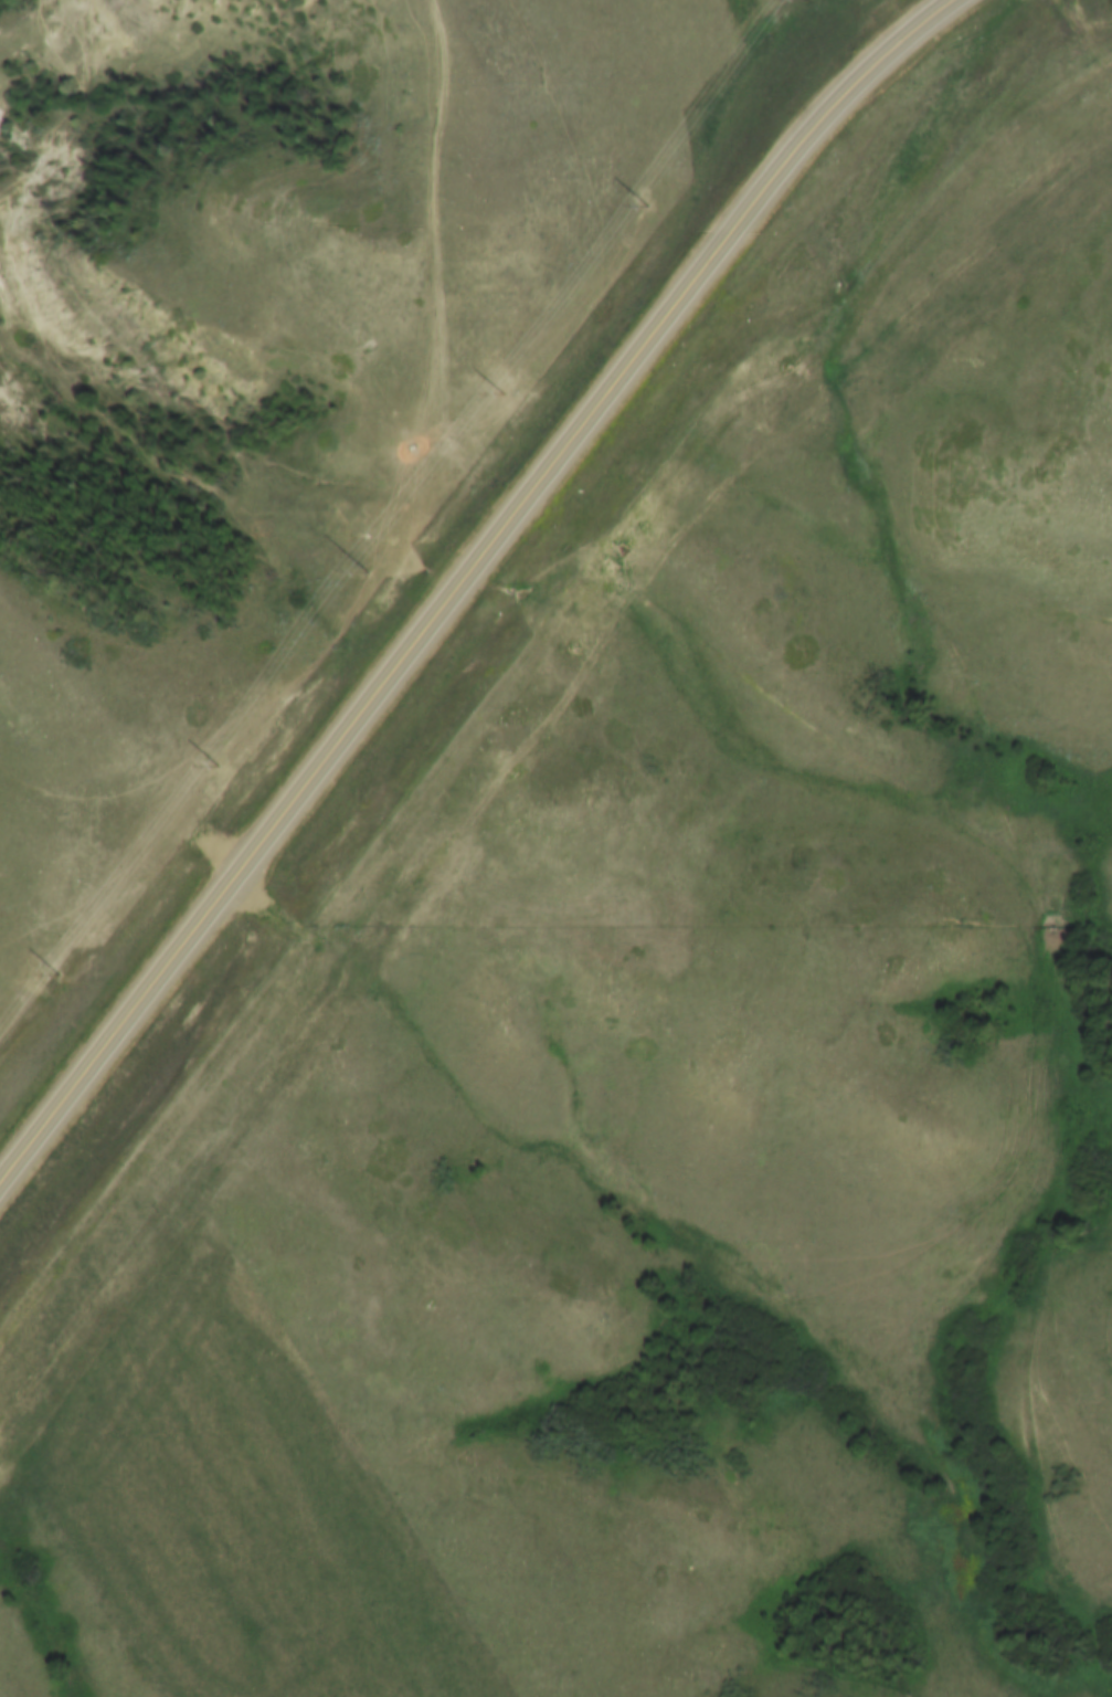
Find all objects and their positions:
road: (458, 586)

